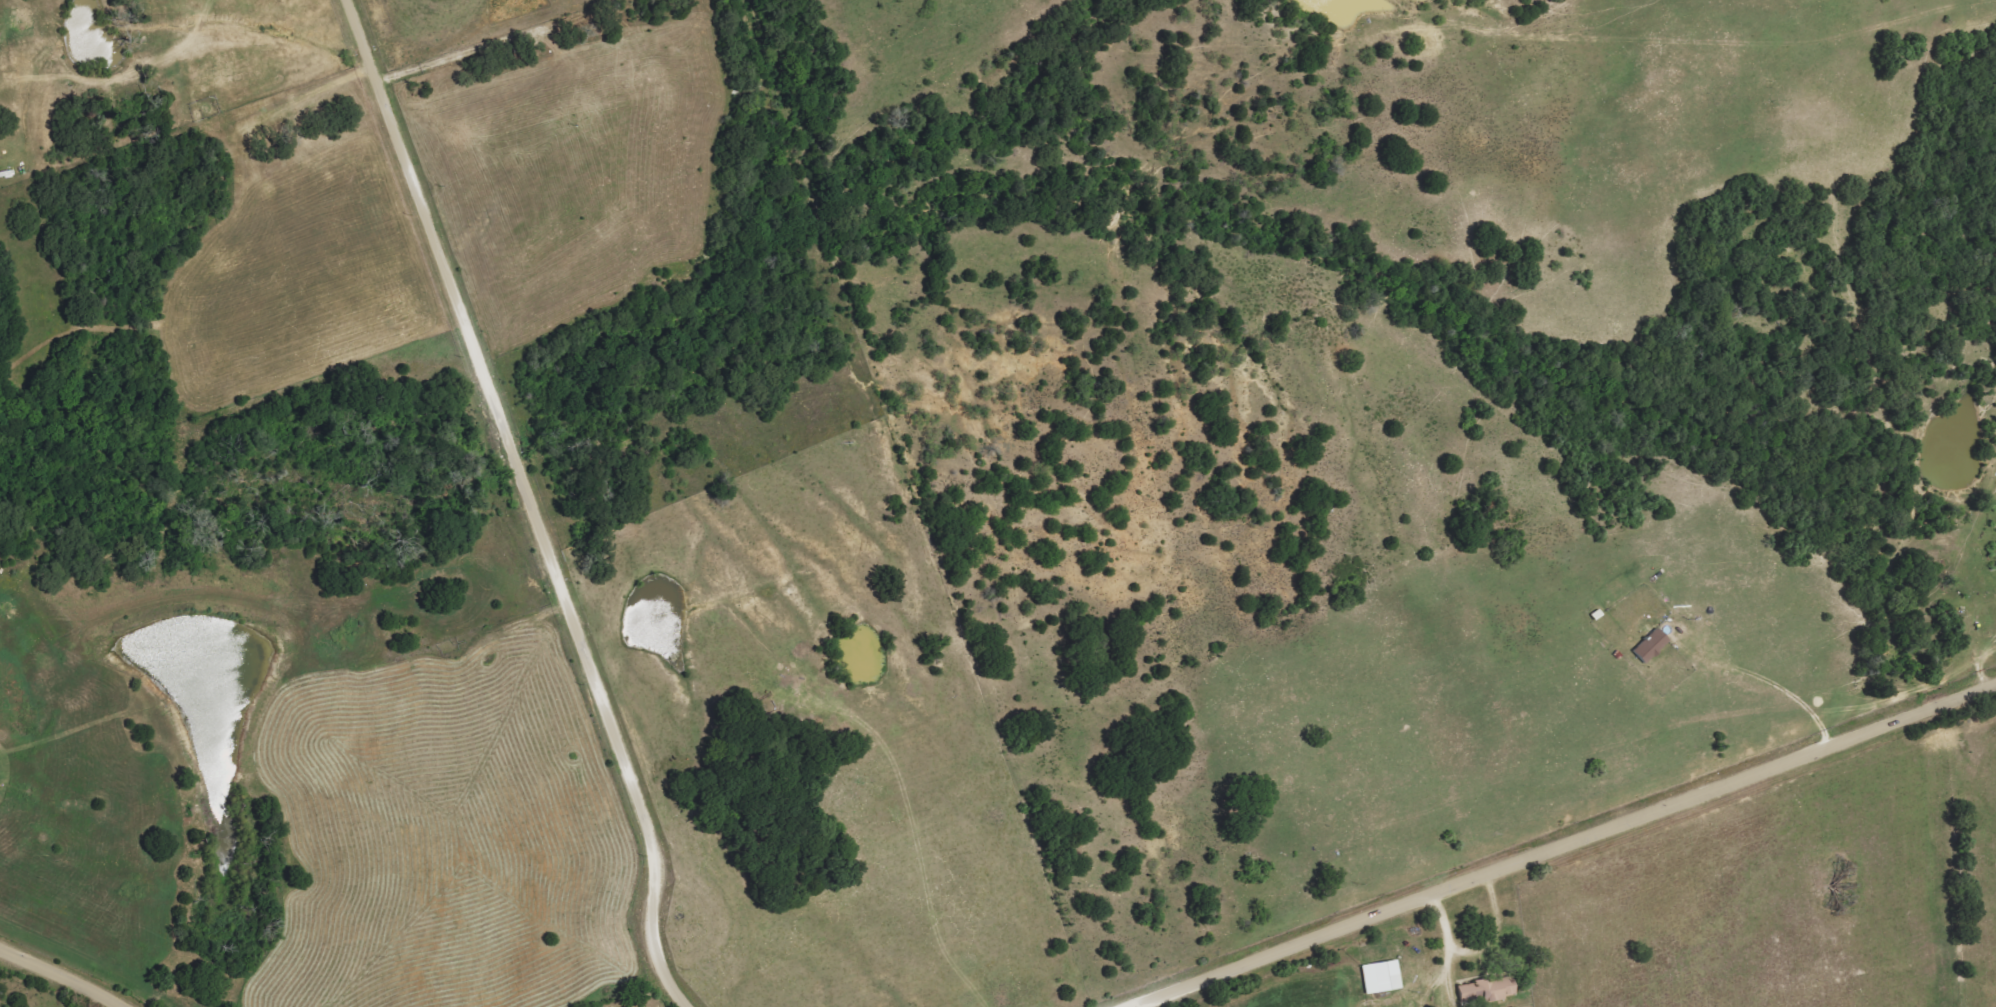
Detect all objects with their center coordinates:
road: (529, 503)
building: (1651, 640)
road: (1760, 676)
road: (1565, 840)
road: (1478, 952)
road: (60, 976)
building: (1383, 976)
building: (1488, 989)

